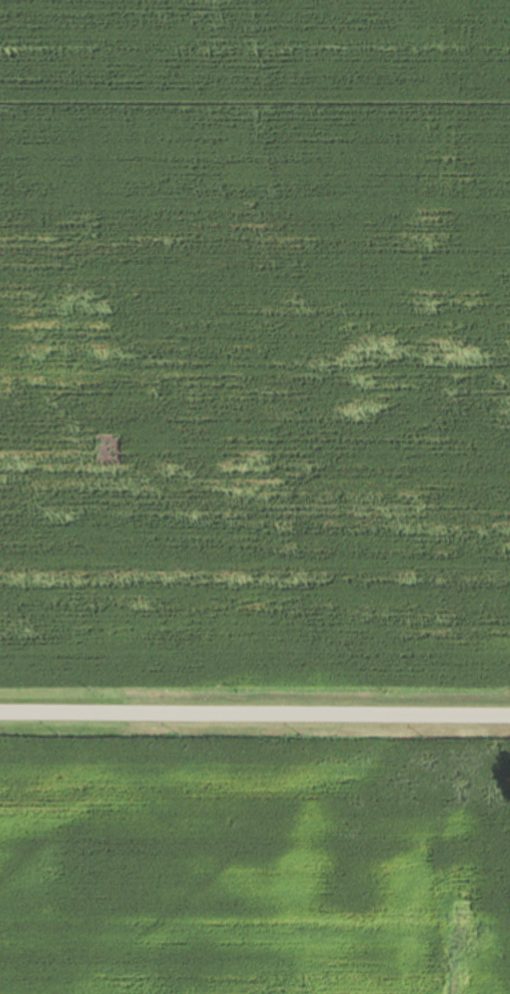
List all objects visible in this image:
road: (255, 714)

